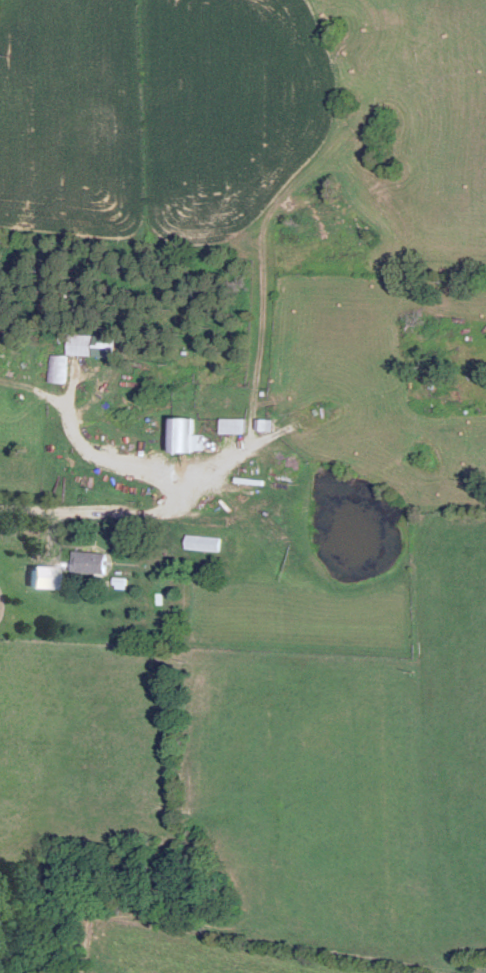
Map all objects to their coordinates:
building: (94, 343)
building: (60, 367)
building: (235, 423)
building: (186, 434)
road: (12, 527)
building: (204, 541)
building: (93, 560)

